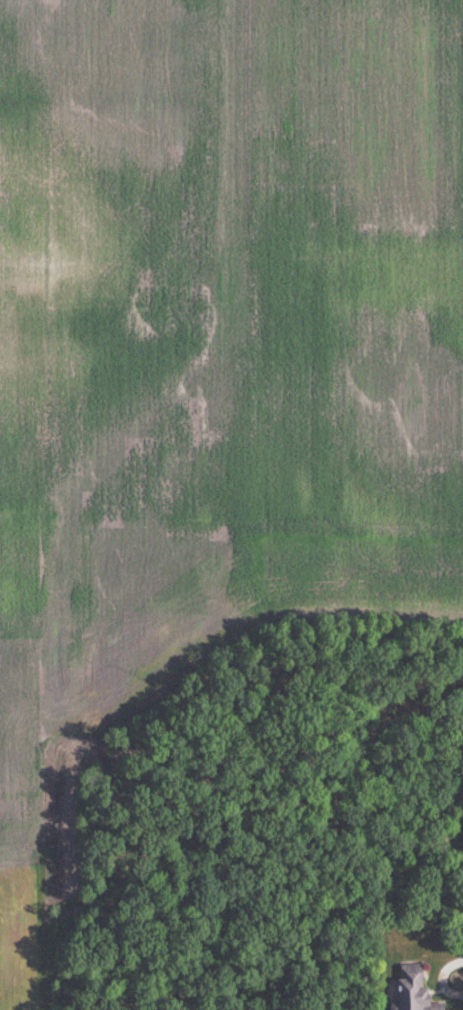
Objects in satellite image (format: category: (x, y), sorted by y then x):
building: (410, 989)

